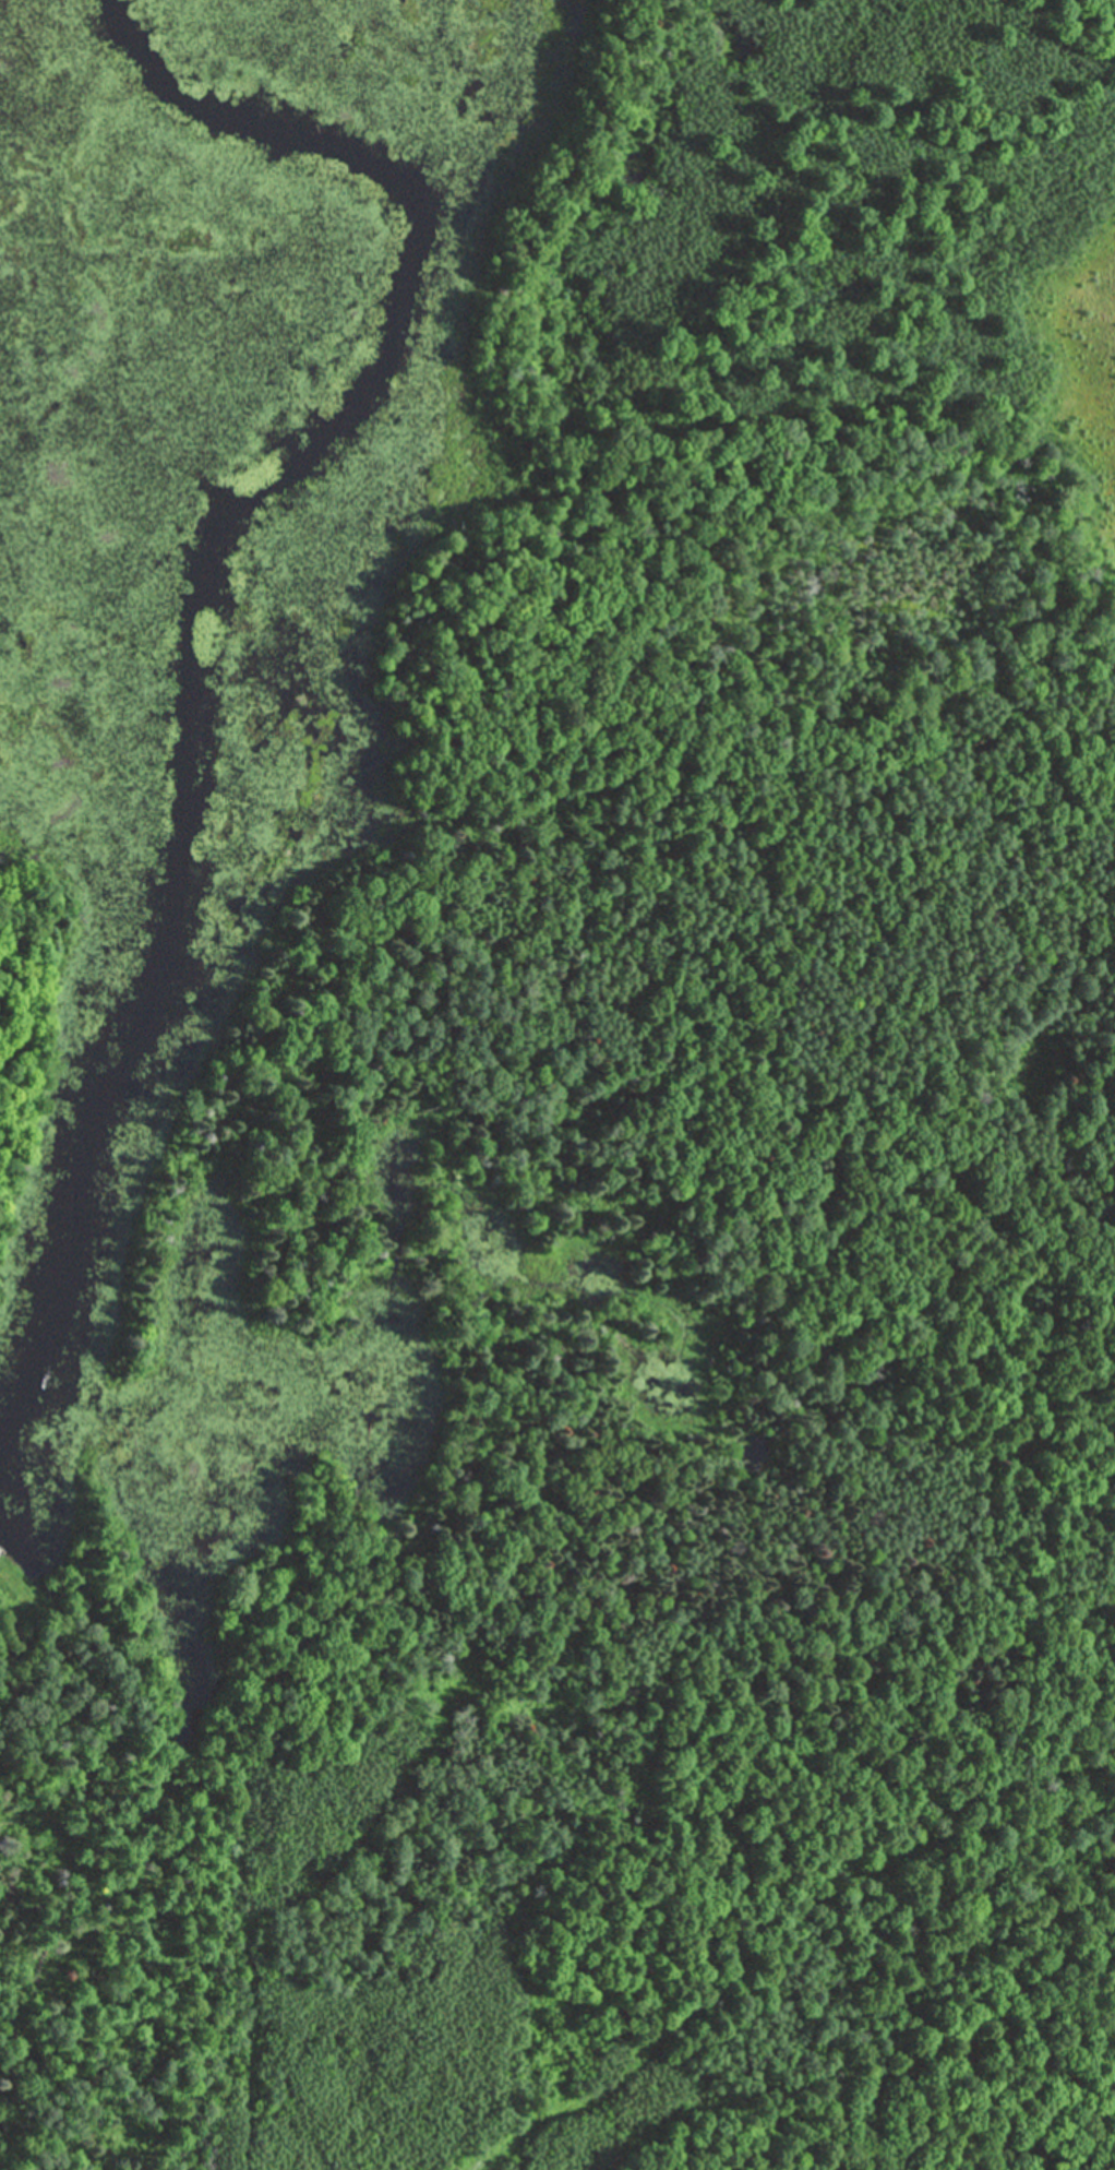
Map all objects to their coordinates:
river: (220, 671)
river: (3, 1569)
dam: (21, 1577)

